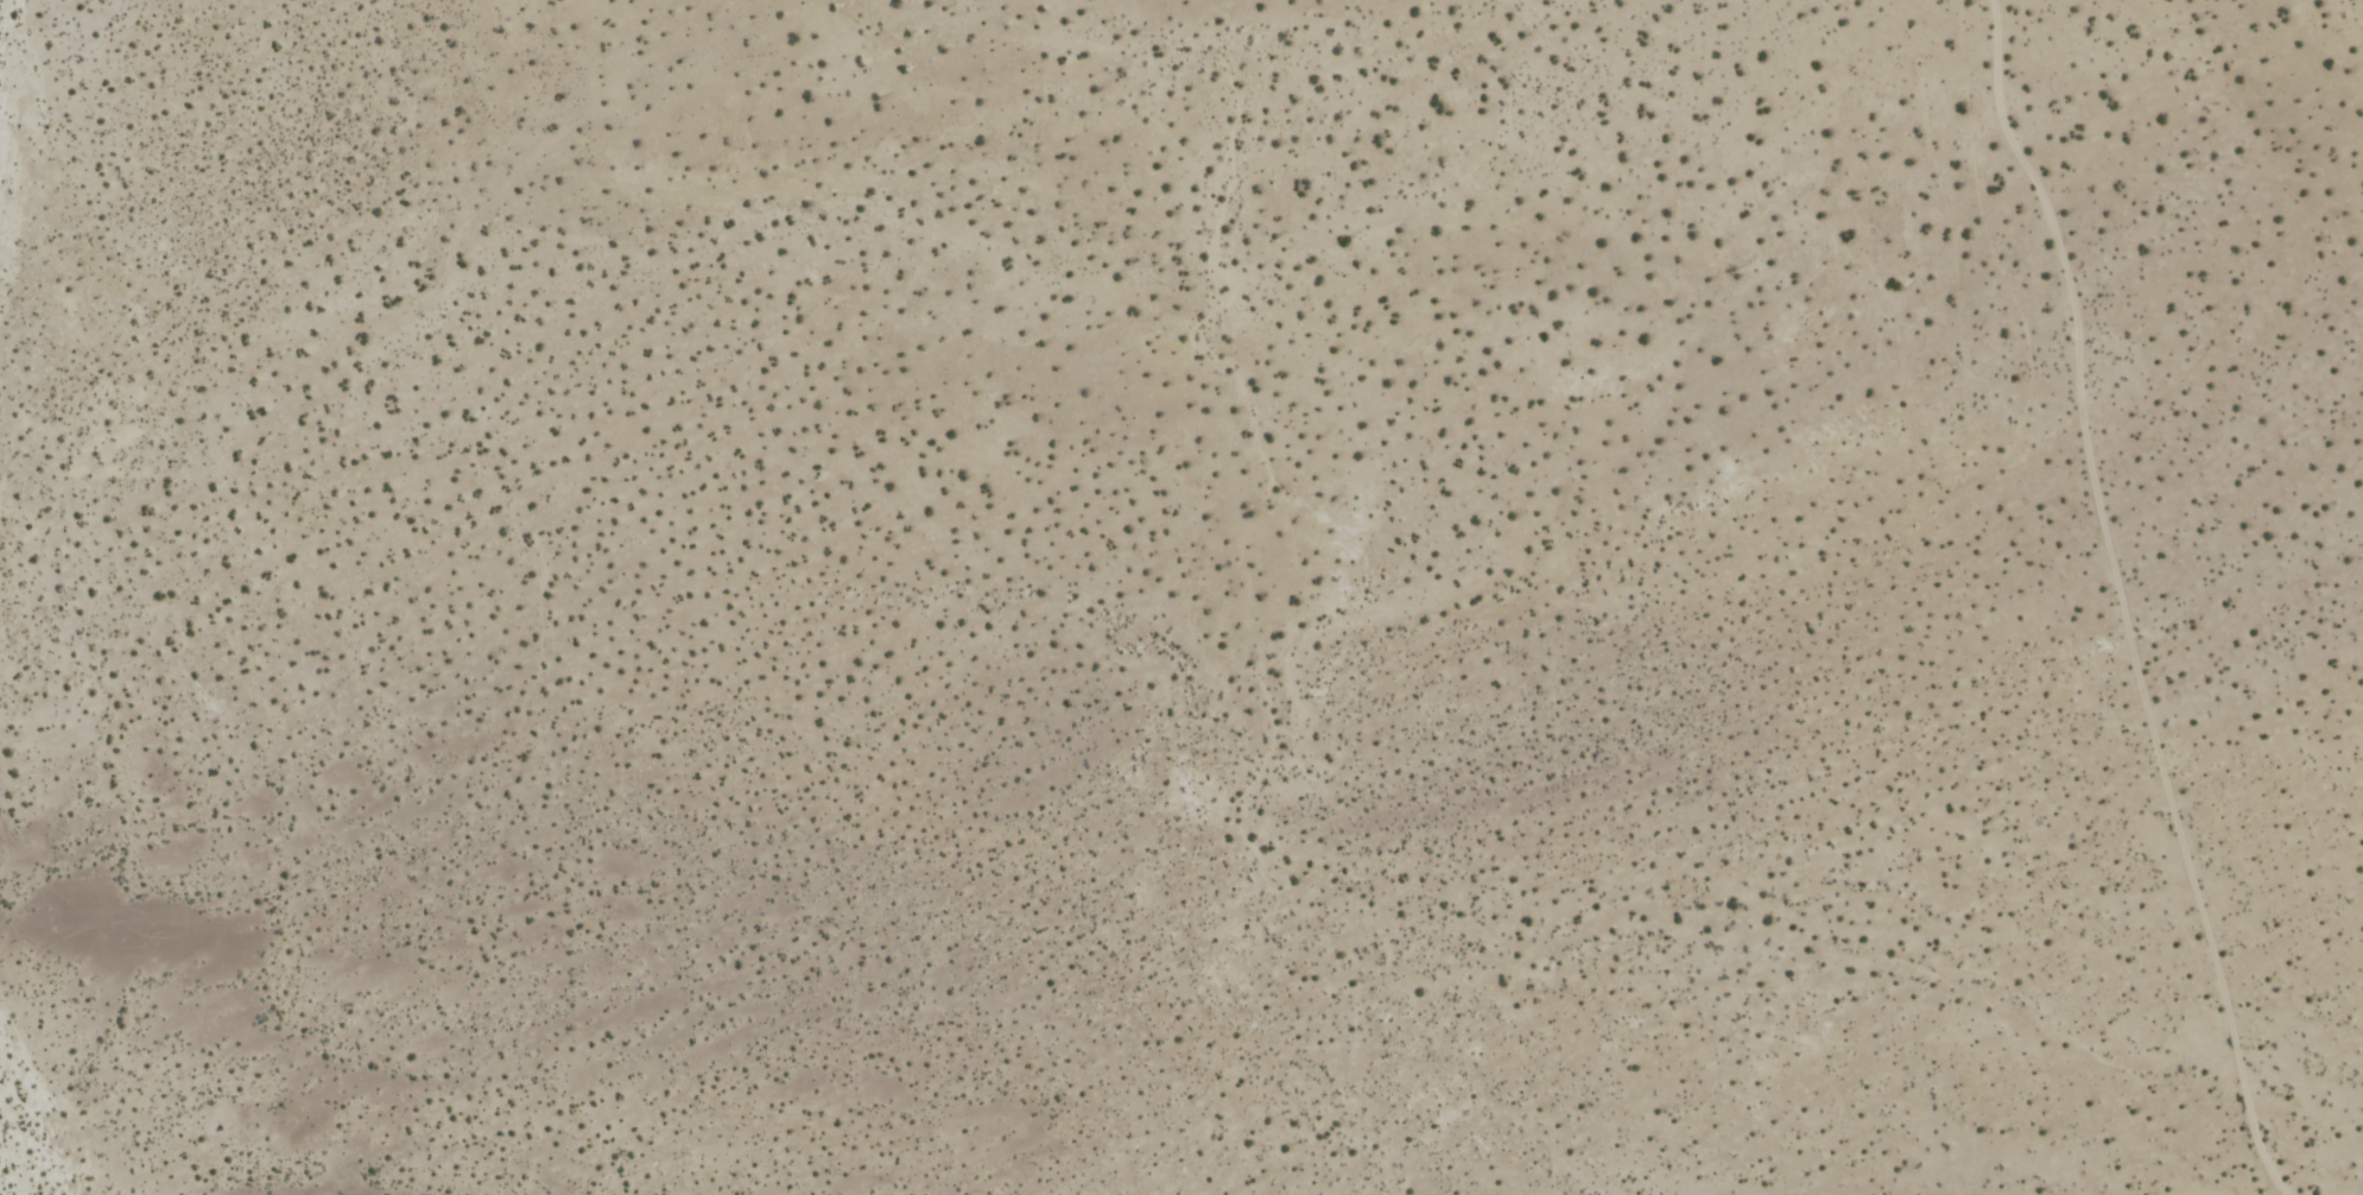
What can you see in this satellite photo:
road: (2145, 601)

